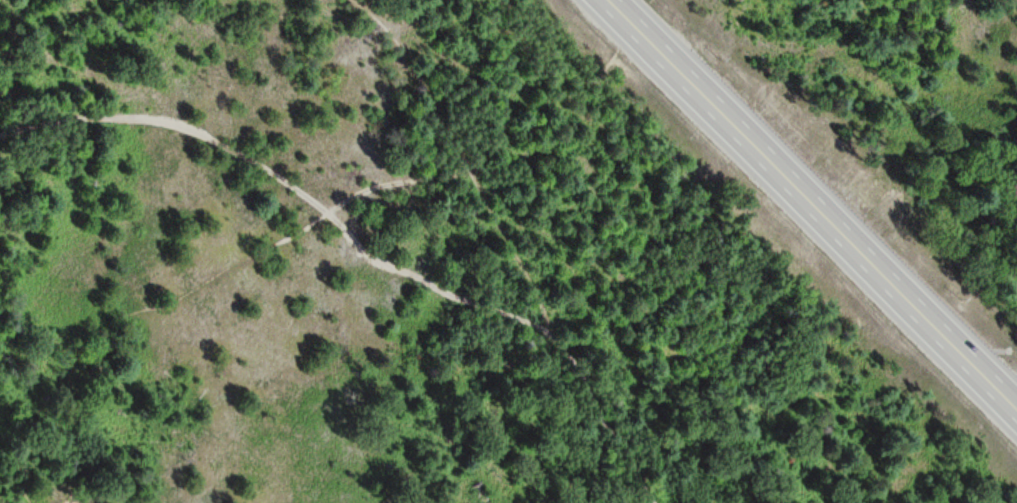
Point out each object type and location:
road: (463, 161)
road: (814, 203)
road: (366, 249)

